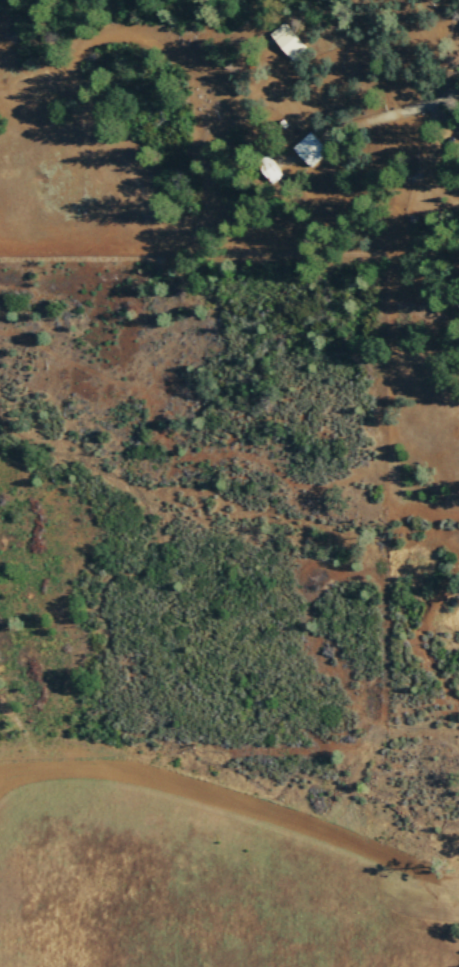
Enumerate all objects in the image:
building: (311, 149)

